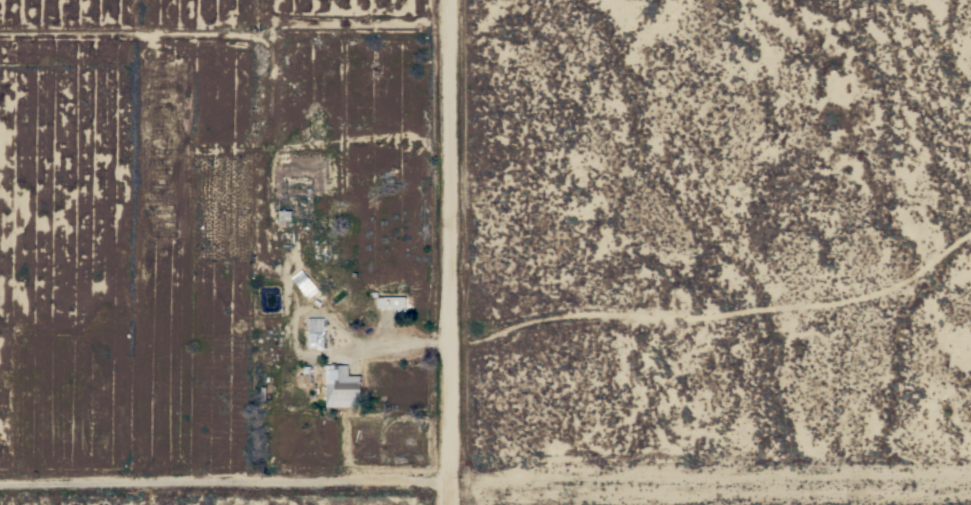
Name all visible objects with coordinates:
building: (284, 217)
road: (448, 252)
building: (308, 286)
building: (393, 304)
building: (315, 340)
road: (397, 344)
building: (305, 376)
building: (340, 379)
road: (224, 480)

